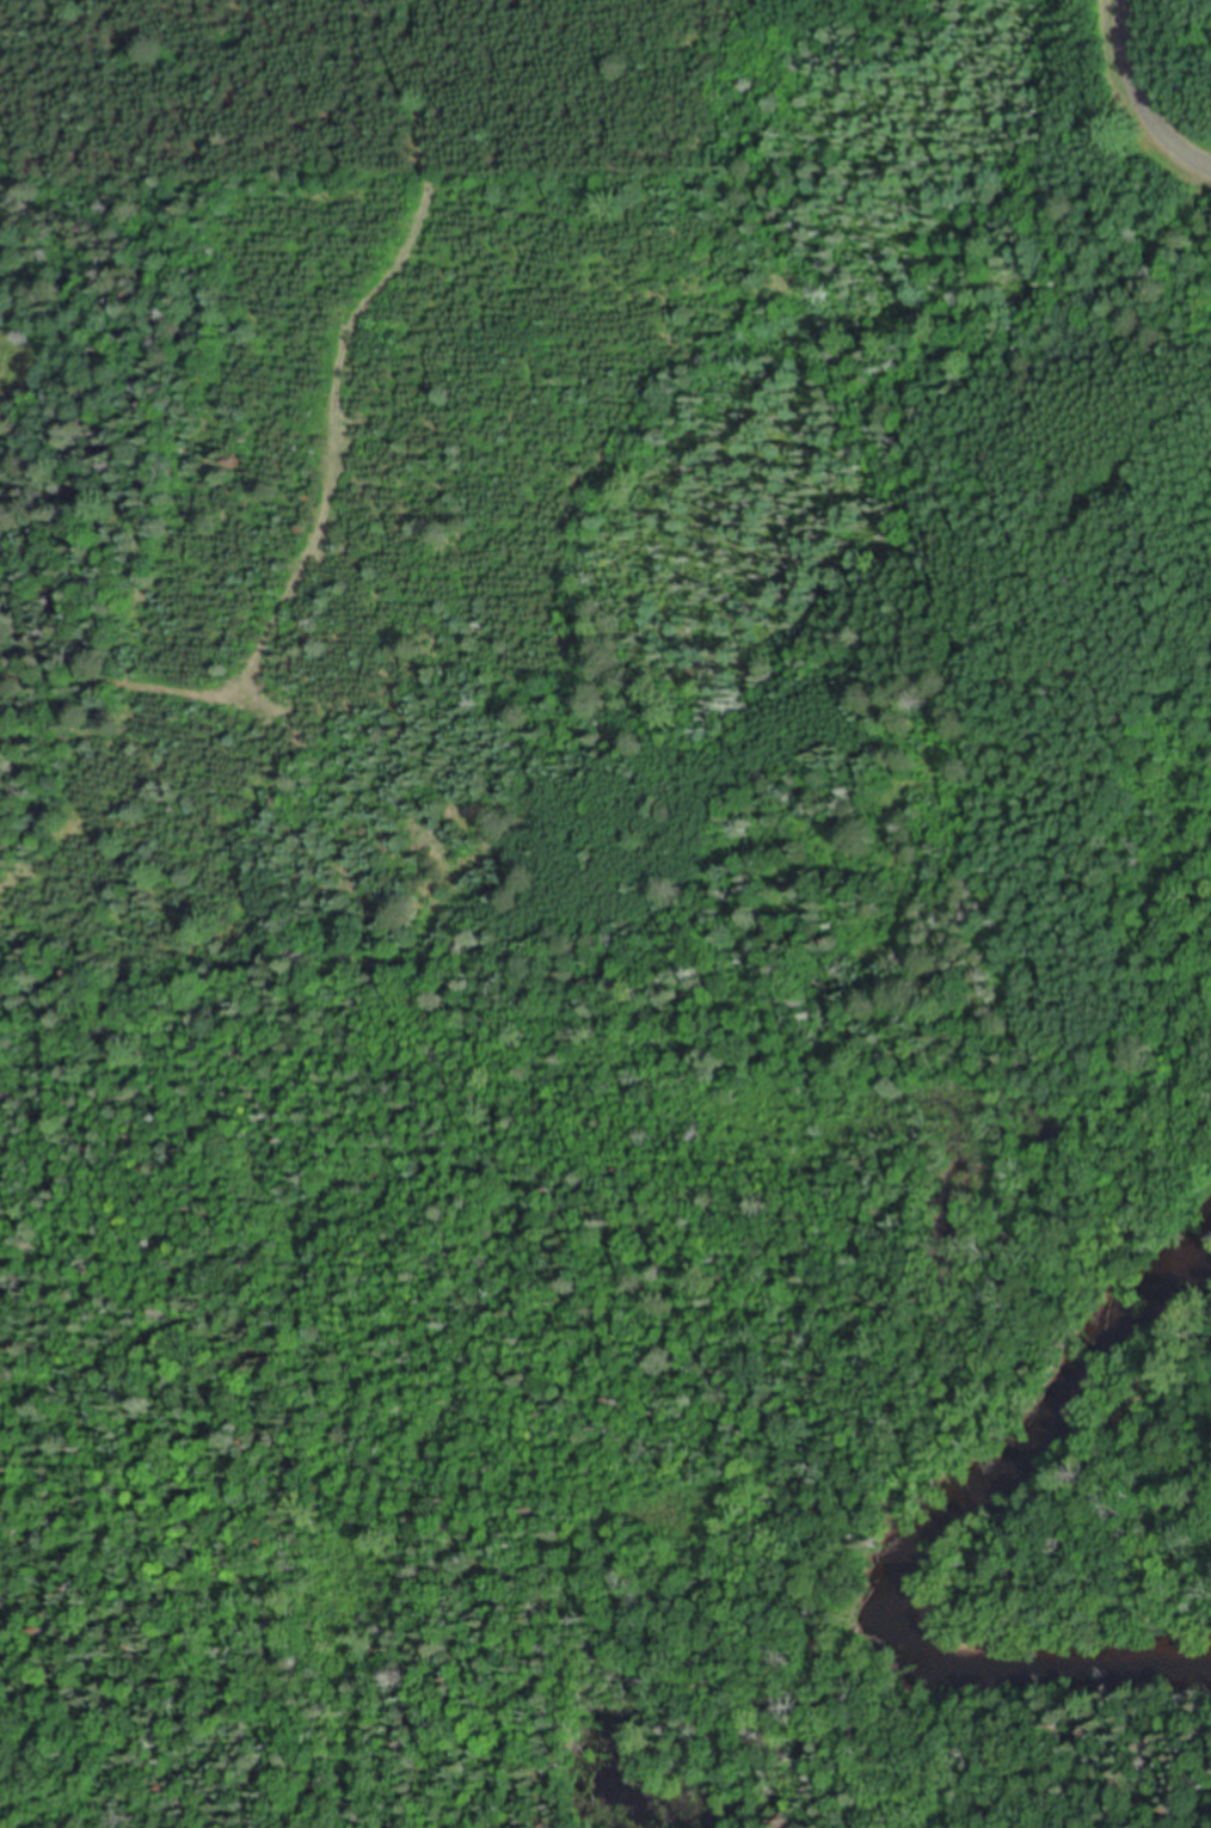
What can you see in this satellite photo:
road: (1135, 108)
river: (935, 1529)

